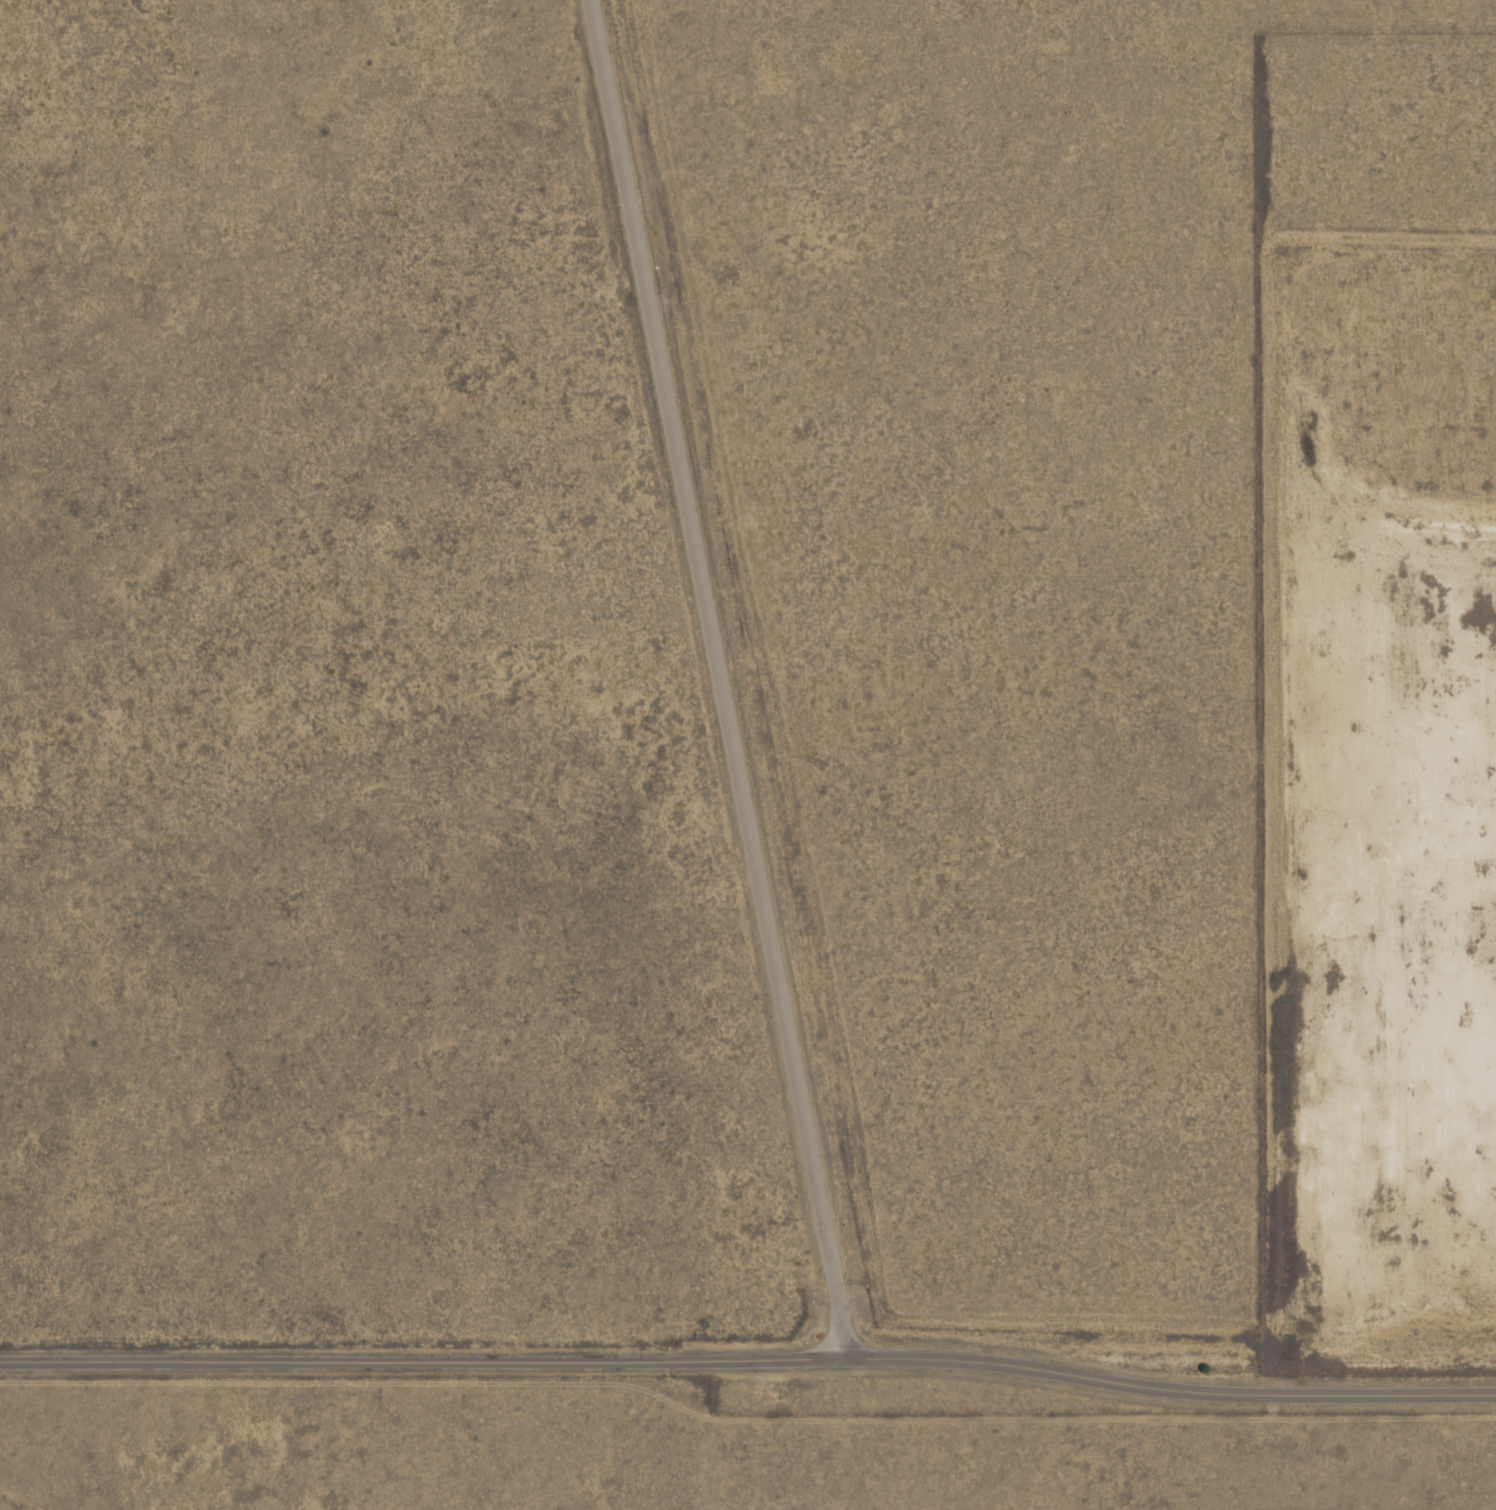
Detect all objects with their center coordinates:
road: (716, 679)
road: (423, 1363)
road: (1170, 1390)

